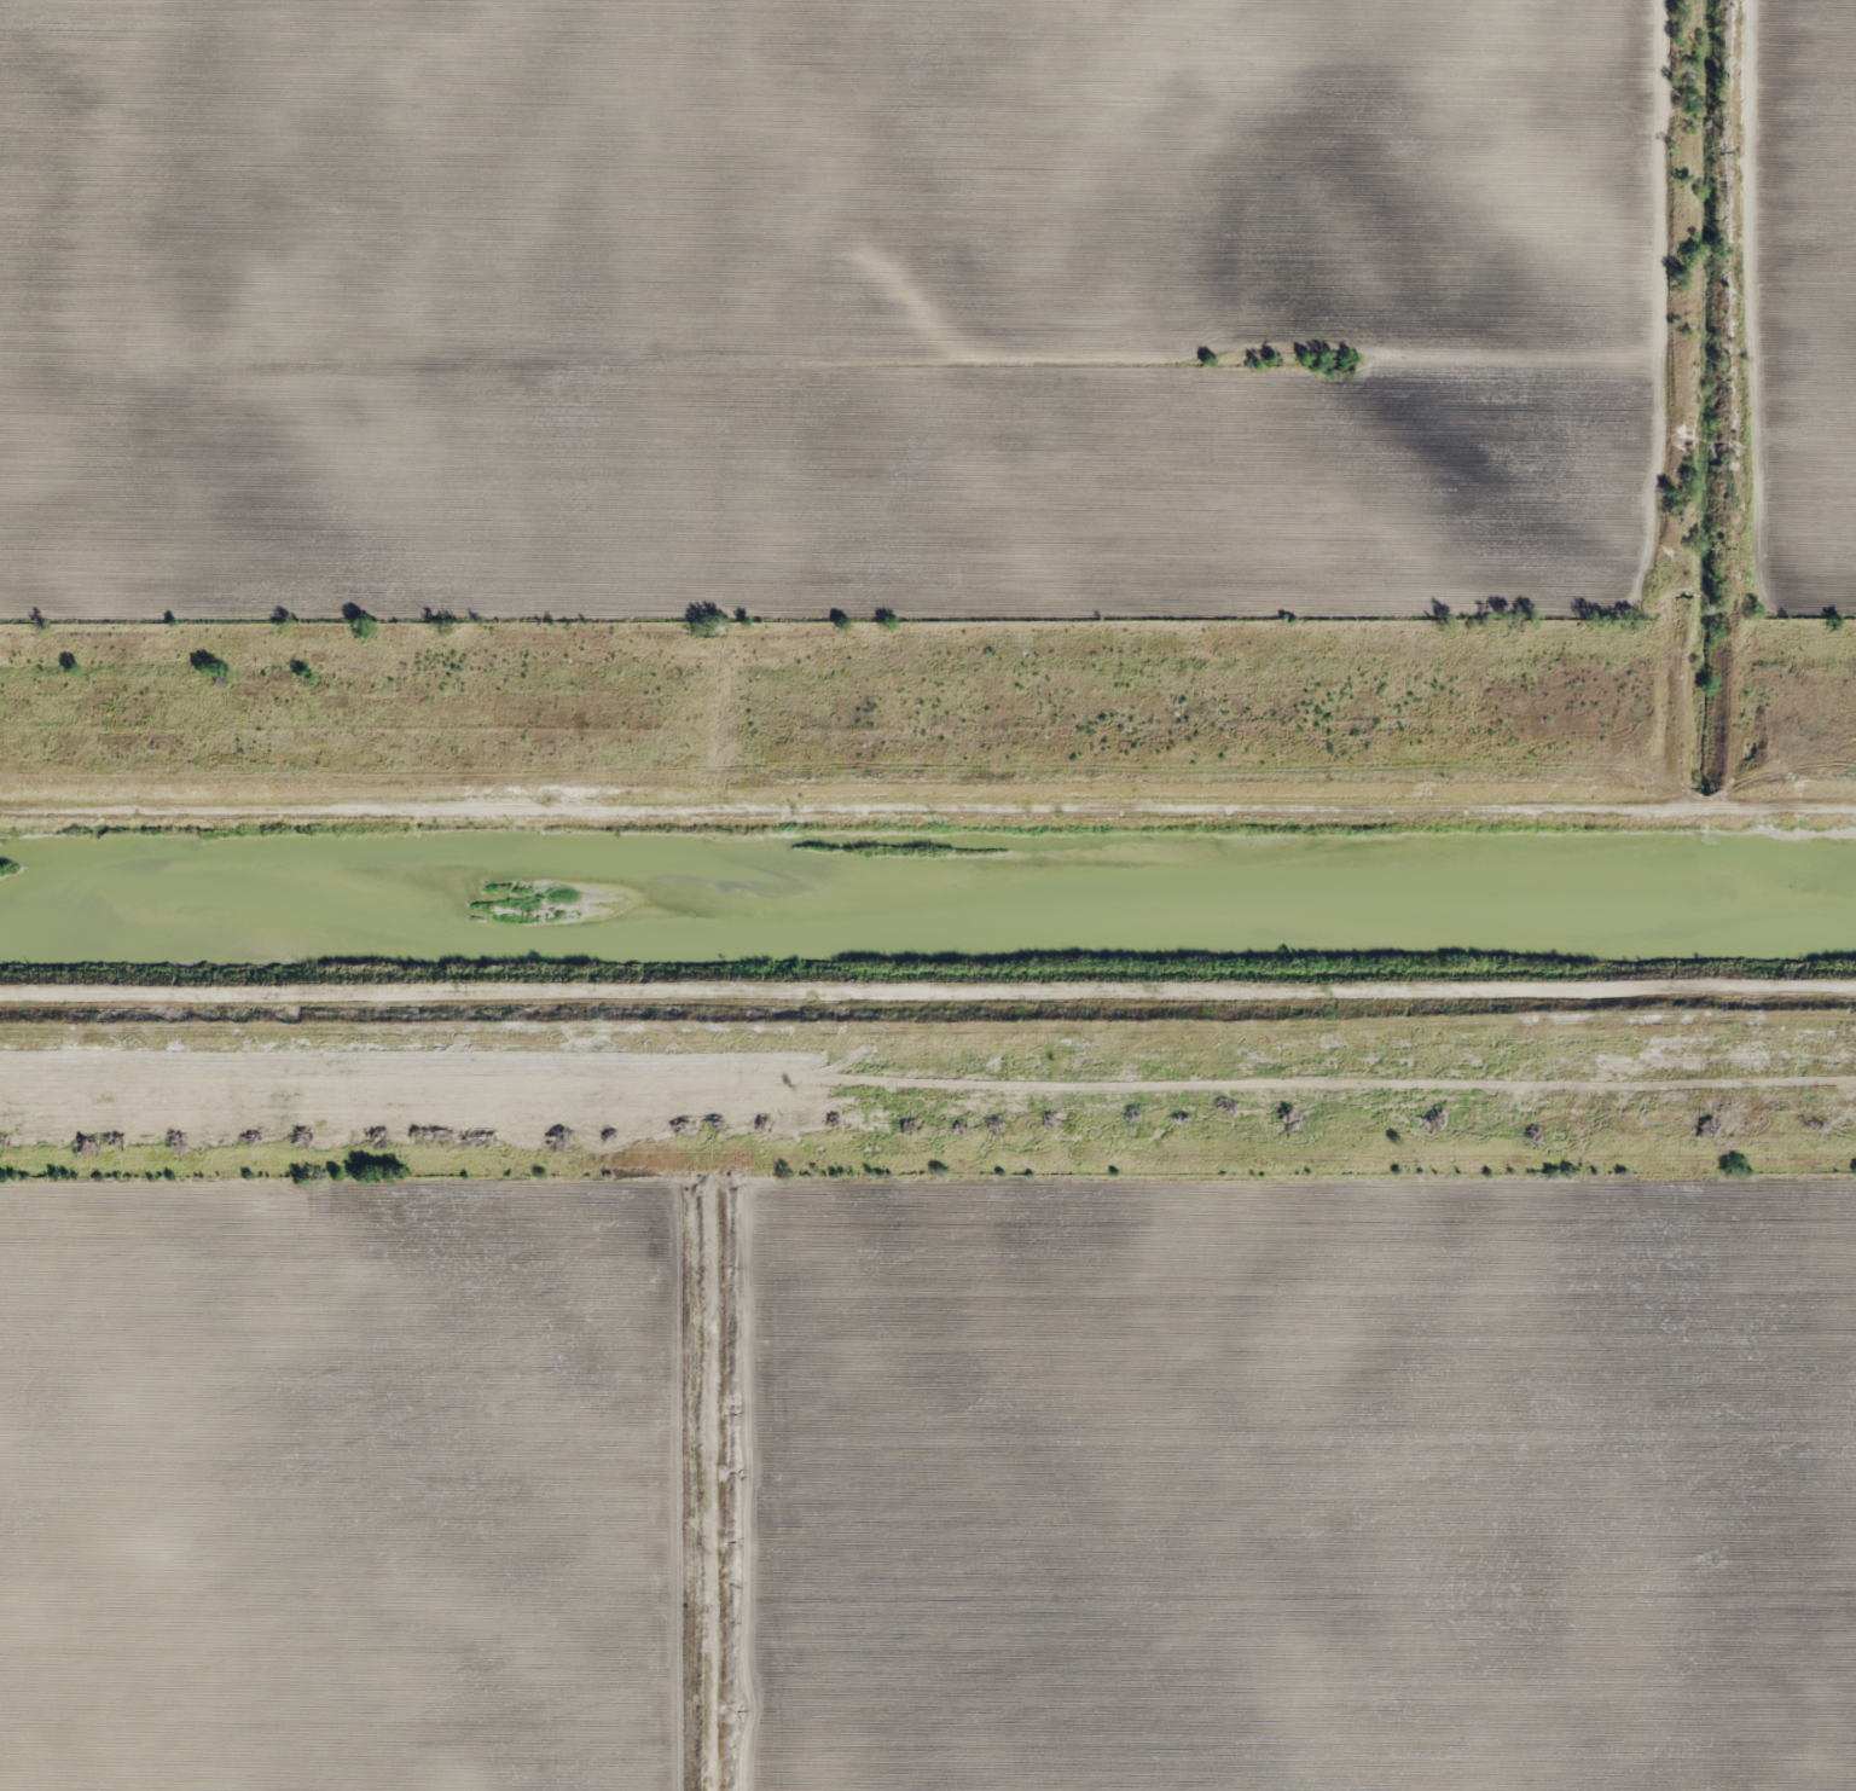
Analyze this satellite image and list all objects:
road: (1154, 40)
road: (928, 1468)

